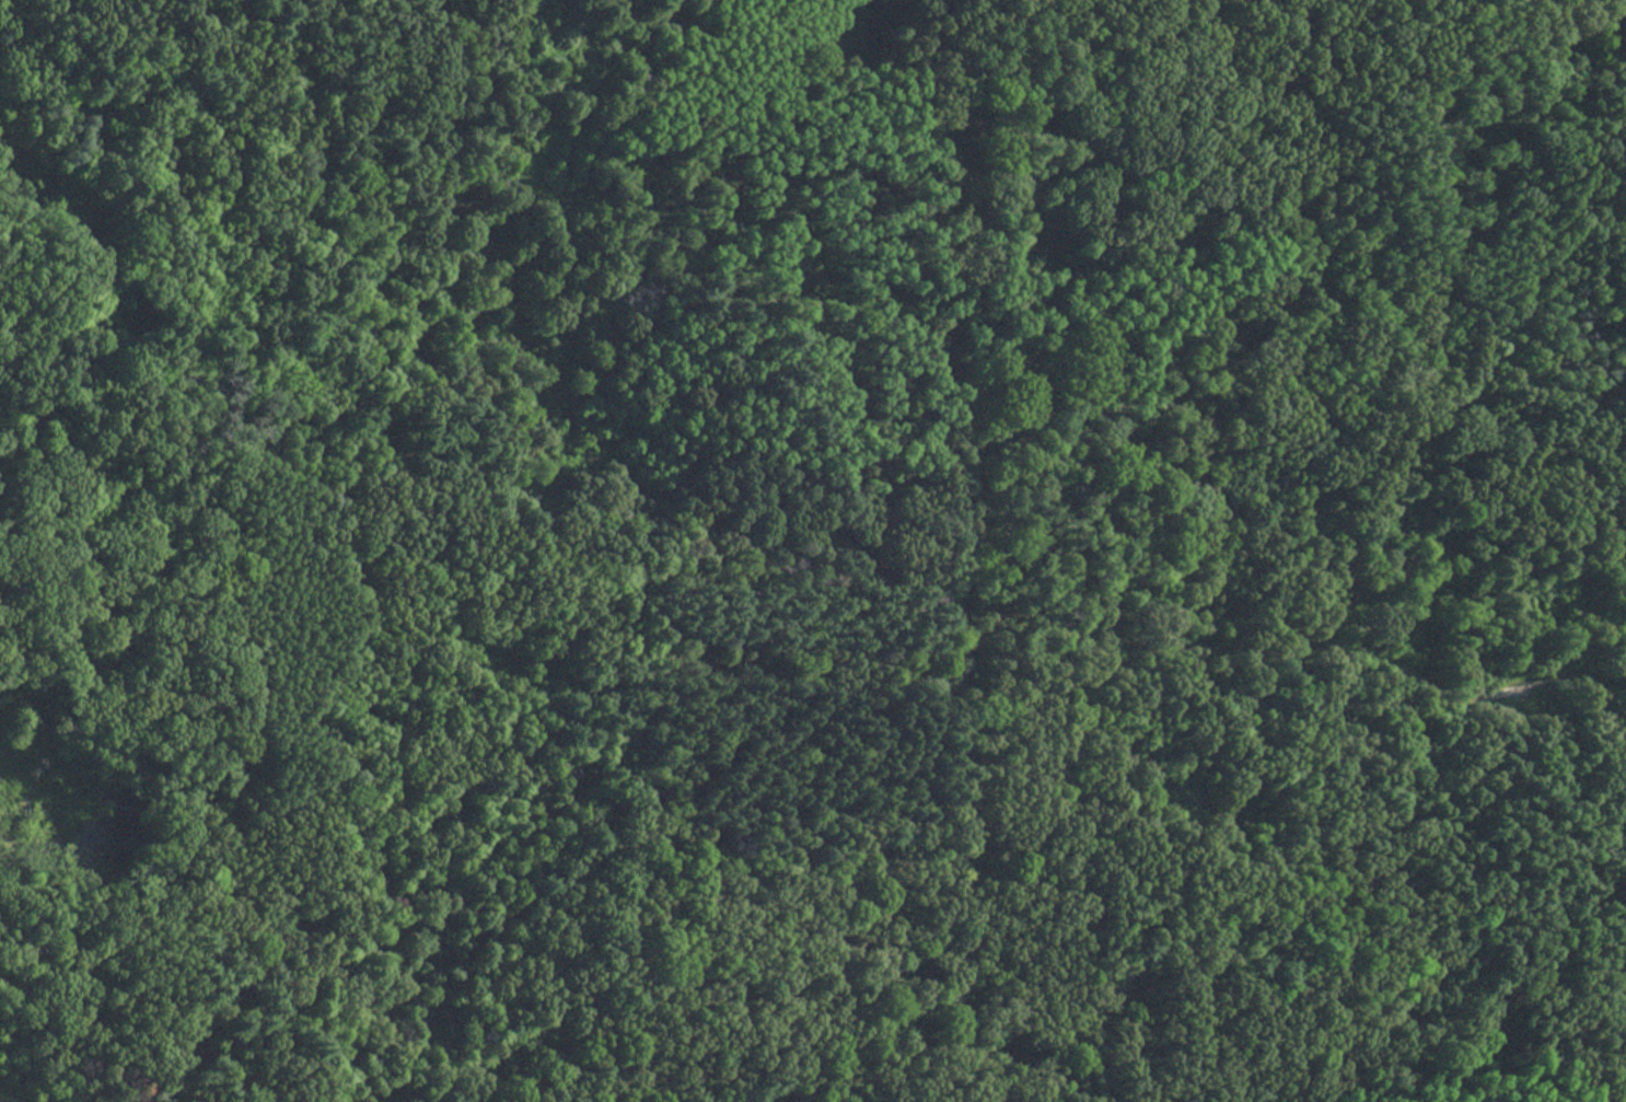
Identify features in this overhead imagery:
park: (813, 550)
road: (968, 550)

